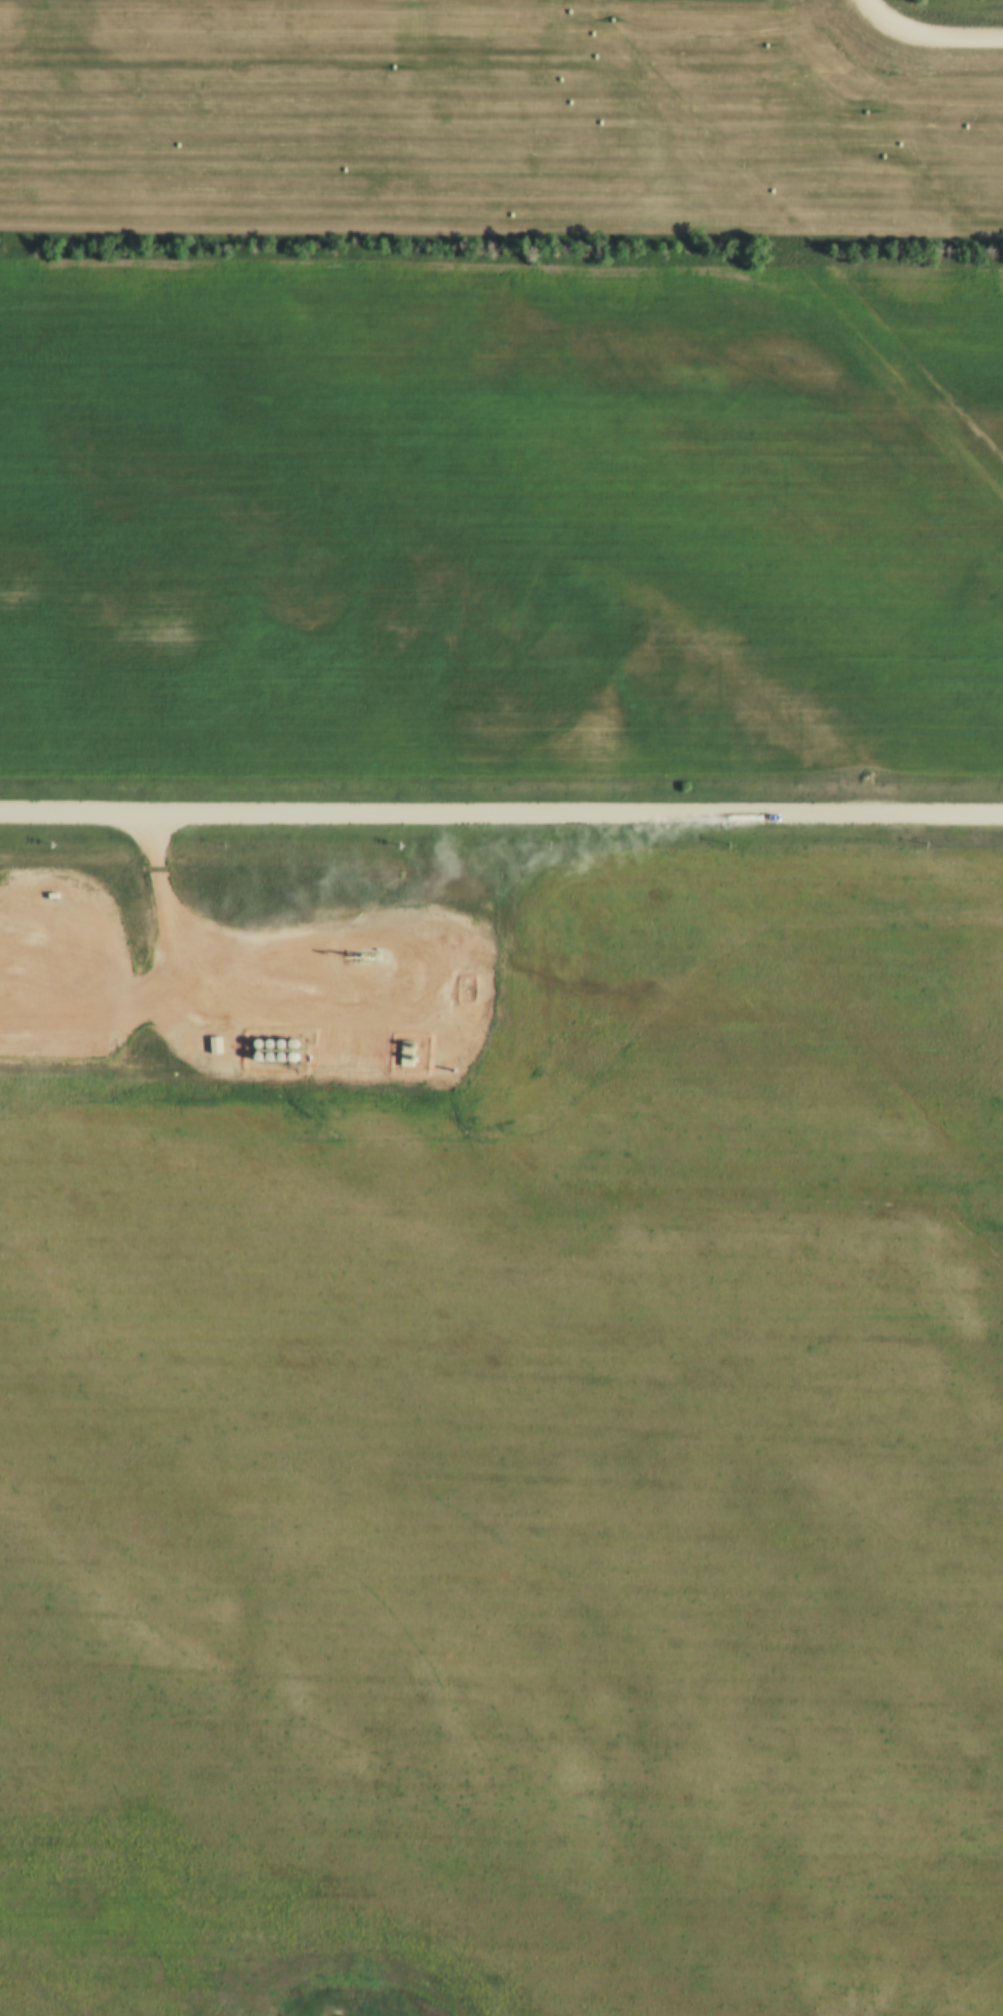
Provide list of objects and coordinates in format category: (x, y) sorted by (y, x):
road: (501, 815)

